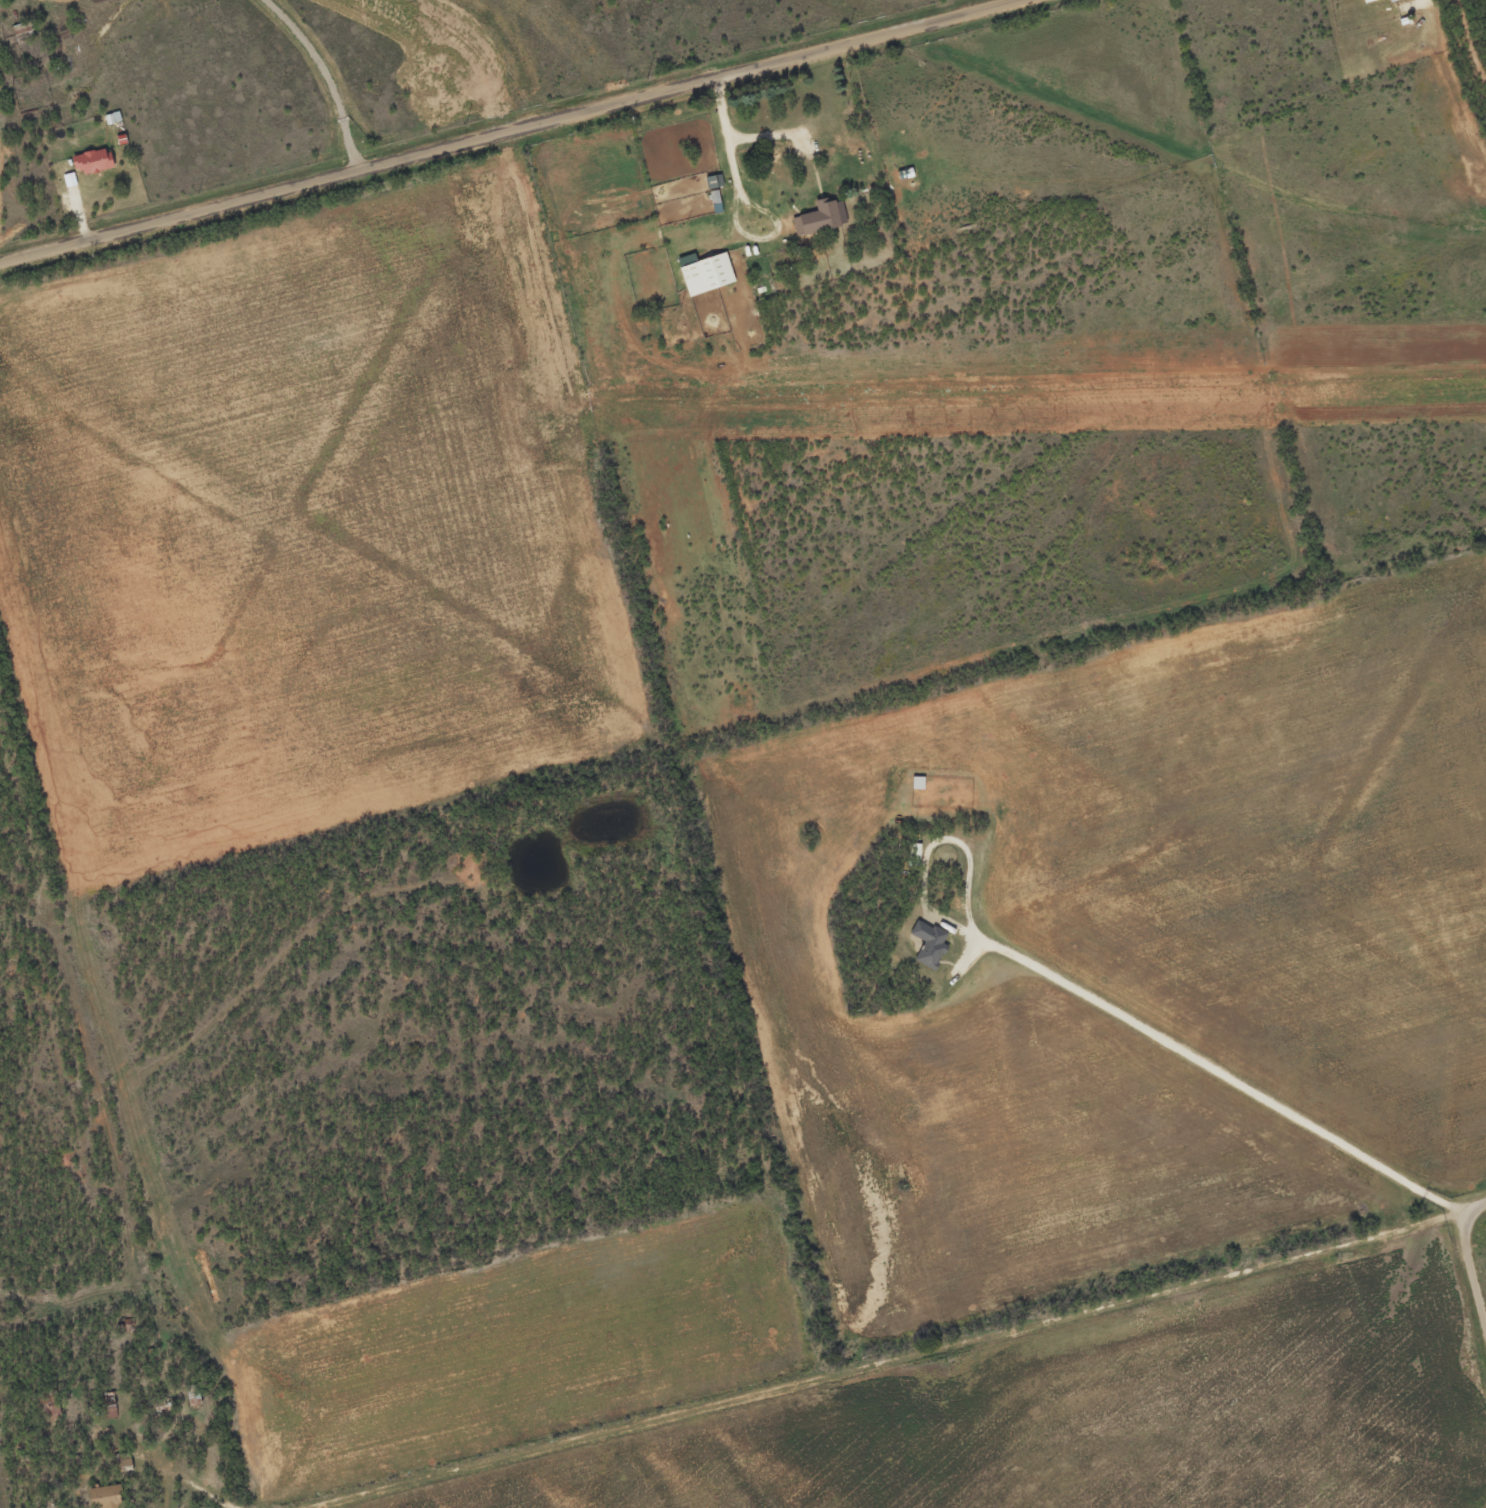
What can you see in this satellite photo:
building: (1369, 1)
road: (73, 74)
road: (326, 76)
road: (507, 131)
building: (93, 160)
building: (714, 180)
building: (821, 217)
building: (705, 272)
building: (929, 943)
road: (1218, 1072)
road: (1469, 1258)
road: (880, 1360)
road: (196, 1486)
building: (104, 1496)

